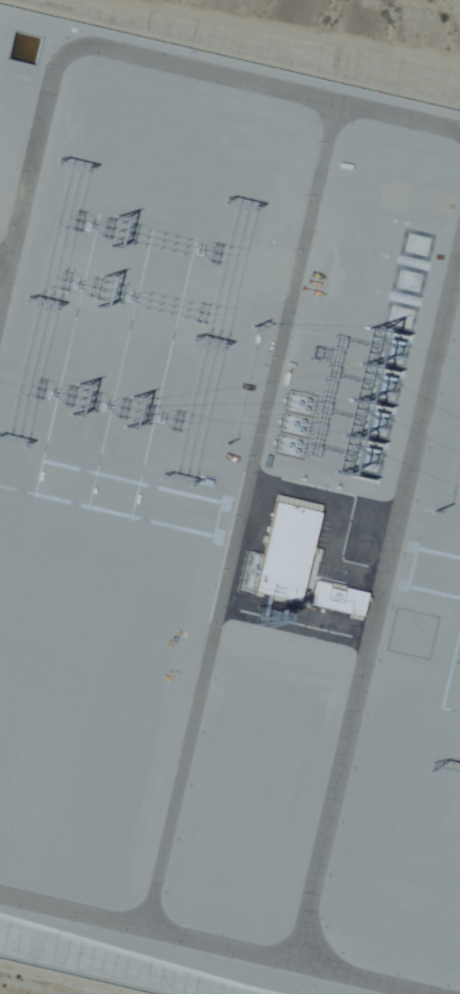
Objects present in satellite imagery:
power substation: (226, 523)

